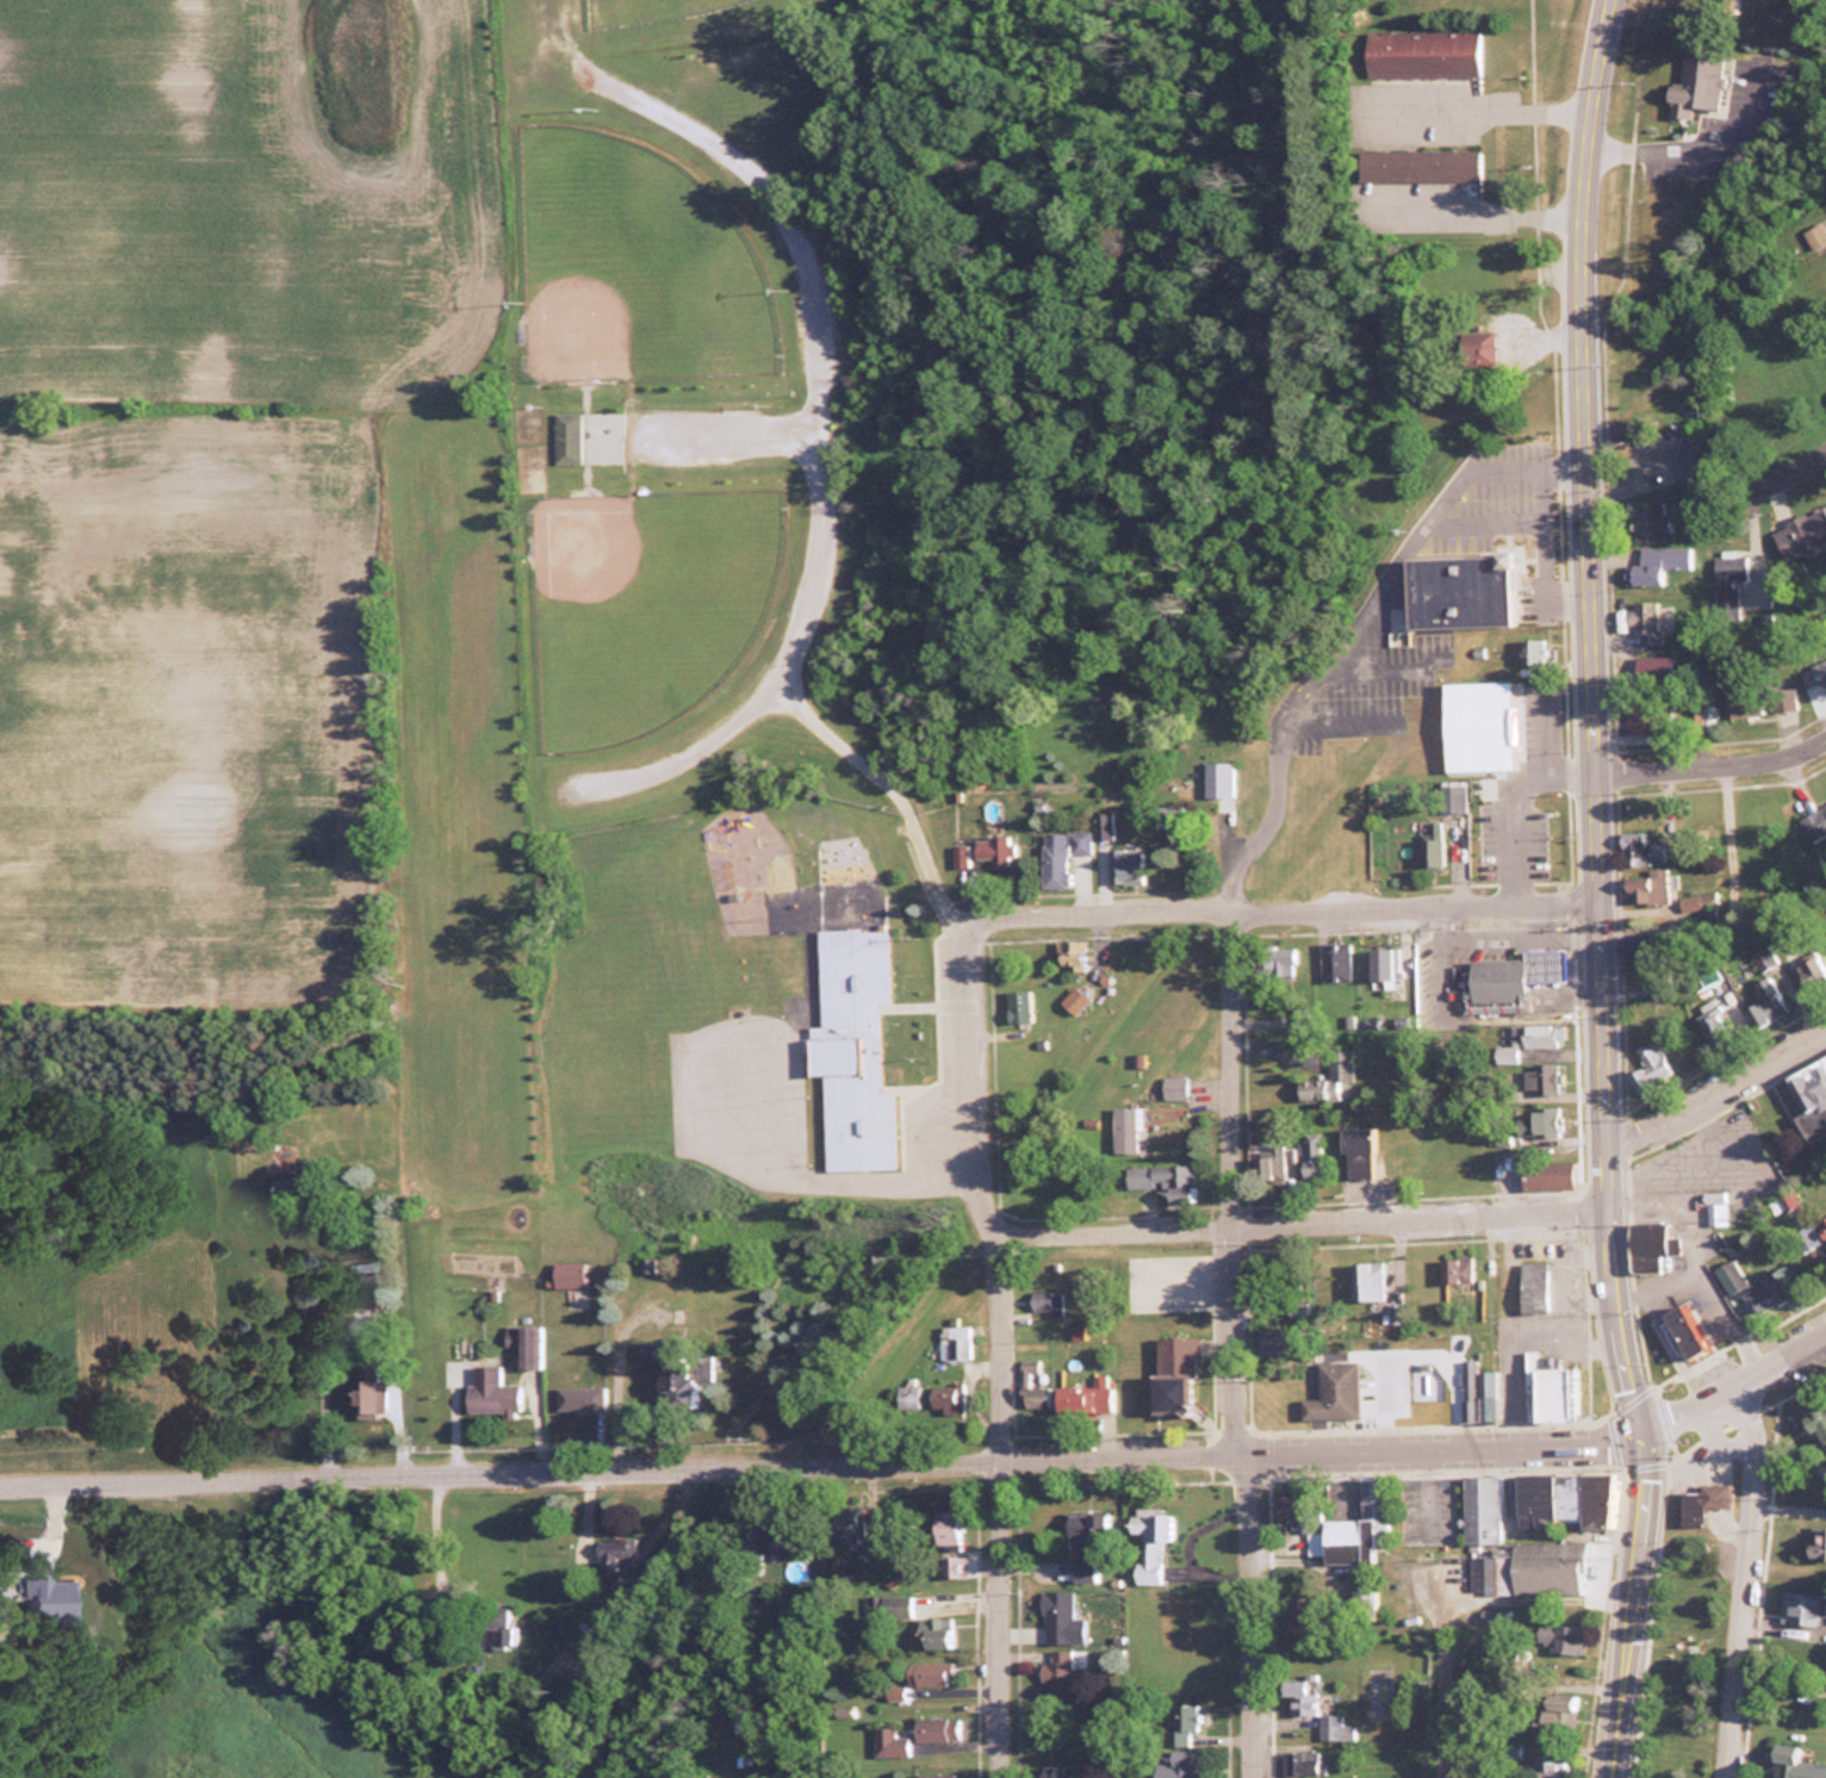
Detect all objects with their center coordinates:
building: (1420, 51)
building: (1696, 81)
road: (1474, 107)
building: (1418, 164)
road: (1476, 213)
building: (1815, 235)
building: (1477, 344)
building: (566, 436)
park: (725, 462)
road: (1805, 462)
road: (1544, 498)
building: (1647, 520)
road: (1545, 528)
building: (1806, 528)
building: (1657, 564)
building: (1726, 583)
building: (1459, 590)
building: (1642, 620)
road: (1350, 632)
building: (1814, 674)
building: (1776, 698)
building: (1738, 702)
road: (1592, 716)
building: (1645, 716)
building: (1478, 723)
road: (1710, 760)
building: (1212, 769)
building: (1453, 797)
building: (1540, 802)
building: (1813, 820)
building: (1640, 850)
building: (1524, 851)
building: (1430, 852)
building: (982, 853)
building: (1118, 853)
building: (1061, 854)
building: (1647, 889)
road: (1281, 907)
building: (1638, 946)
building: (1068, 953)
building: (1274, 959)
building: (1545, 963)
building: (1384, 965)
building: (1809, 976)
building: (1496, 984)
building: (1073, 999)
building: (1764, 1002)
building: (1014, 1005)
building: (1715, 1021)
building: (1538, 1034)
building: (850, 1050)
building: (1340, 1064)
building: (1650, 1067)
building: (1541, 1078)
road: (1718, 1084)
building: (1173, 1086)
building: (1811, 1093)
building: (1545, 1121)
building: (1124, 1129)
building: (1356, 1151)
building: (1313, 1156)
building: (1268, 1164)
building: (1547, 1175)
road: (1231, 1179)
building: (1163, 1180)
road: (1304, 1217)
building: (1822, 1225)
building: (1806, 1237)
building: (1455, 1270)
building: (567, 1274)
building: (1729, 1276)
building: (1366, 1280)
building: (1533, 1286)
building: (1042, 1291)
building: (1771, 1291)
building: (360, 1293)
building: (1684, 1331)
building: (1274, 1341)
building: (952, 1342)
road: (1002, 1343)
building: (524, 1344)
building: (1172, 1373)
building: (671, 1374)
building: (1030, 1385)
road: (1737, 1385)
building: (1428, 1386)
building: (1551, 1390)
building: (367, 1391)
building: (1334, 1392)
building: (1476, 1392)
building: (490, 1393)
building: (906, 1395)
building: (1083, 1395)
building: (578, 1397)
building: (939, 1400)
building: (1821, 1424)
road: (822, 1455)
building: (1563, 1499)
building: (1703, 1502)
building: (1483, 1509)
road: (1785, 1509)
building: (845, 1523)
building: (943, 1527)
building: (1354, 1528)
building: (1818, 1542)
building: (1147, 1544)
building: (1082, 1546)
building: (614, 1554)
building: (951, 1566)
building: (1533, 1569)
road: (1739, 1579)
building: (1365, 1604)
road: (1635, 1605)
building: (895, 1606)
building: (1803, 1610)
road: (1256, 1612)
building: (1297, 1614)
building: (1058, 1618)
building: (493, 1627)
building: (1560, 1637)
park: (1687, 1658)
building: (1058, 1672)
building: (927, 1673)
building: (1299, 1695)
road: (1435, 1701)
building: (1554, 1708)
building: (1178, 1726)
building: (934, 1728)
building: (888, 1742)
building: (1552, 1760)
building: (1784, 1761)
building: (1297, 1764)
building: (1174, 1765)
building: (933, 1776)

